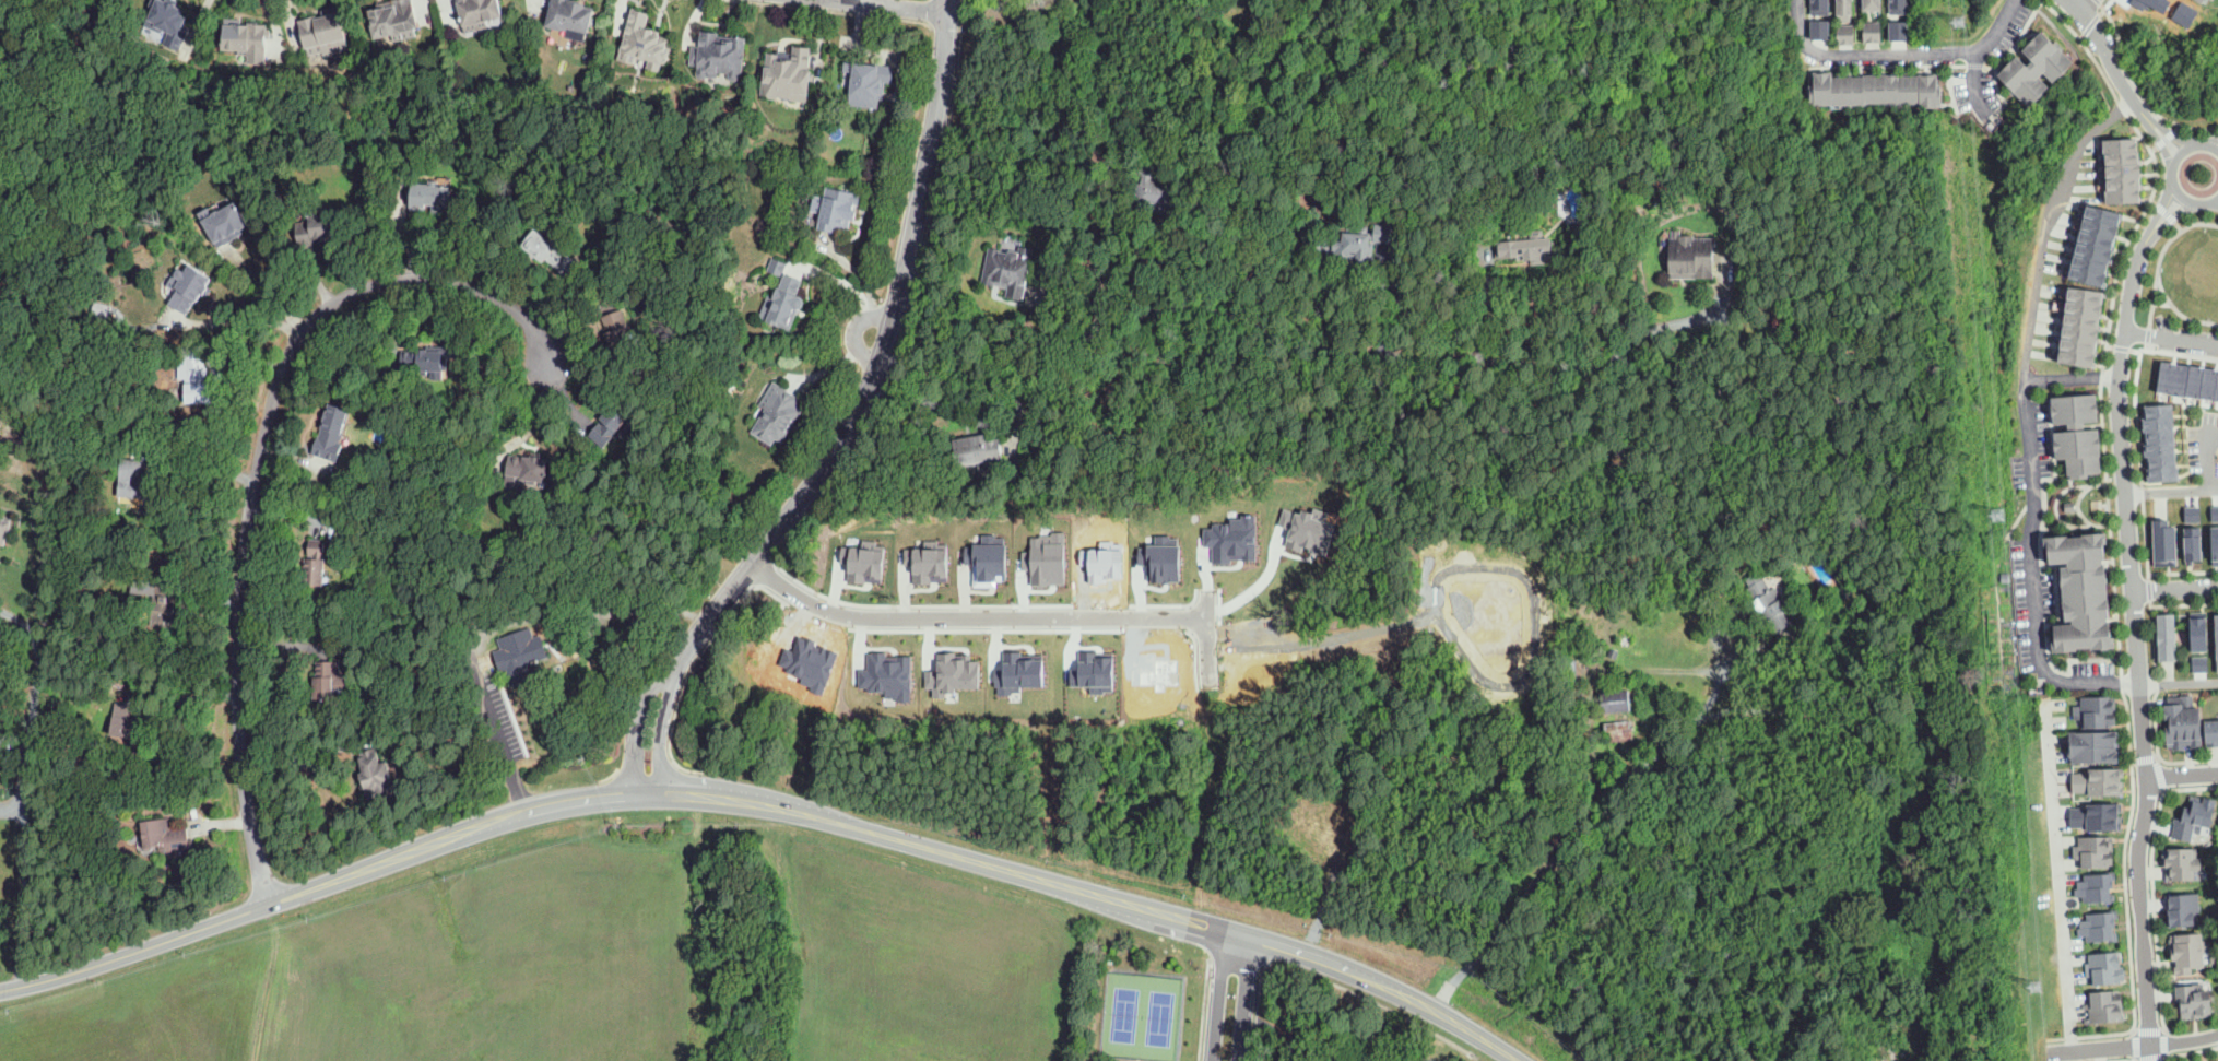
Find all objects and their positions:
building: (2213, 0)
road: (543, 1)
road: (961, 2)
building: (1815, 2)
building: (1895, 3)
building: (2155, 3)
building: (1872, 4)
road: (2086, 4)
road: (886, 7)
building: (1844, 11)
road: (845, 12)
building: (2185, 12)
building: (479, 13)
building: (570, 15)
building: (394, 20)
building: (167, 22)
road: (2092, 23)
power tower: (1960, 25)
building: (1816, 26)
building: (1893, 27)
road: (2095, 28)
building: (1908, 30)
building: (331, 33)
building: (1842, 33)
building: (1873, 33)
building: (246, 39)
road: (36, 42)
building: (644, 43)
road: (1896, 50)
building: (719, 56)
building: (2040, 68)
building: (792, 78)
road: (2123, 80)
building: (868, 83)
road: (1972, 83)
road: (2137, 85)
building: (1829, 91)
building: (1889, 92)
building: (1901, 92)
building: (1878, 93)
building: (1912, 93)
building: (1923, 93)
building: (1938, 93)
building: (1844, 94)
building: (1855, 94)
building: (1867, 94)
road: (2115, 94)
road: (2143, 109)
road: (1101, 128)
road: (2173, 133)
road: (2168, 137)
road: (2211, 141)
road: (2162, 145)
building: (2113, 164)
road: (2172, 174)
building: (1151, 189)
building: (428, 197)
road: (2154, 202)
road: (2213, 203)
road: (2160, 208)
building: (836, 209)
road: (2166, 212)
road: (2170, 217)
building: (224, 224)
road: (2049, 225)
road: (2178, 225)
building: (316, 226)
road: (1097, 237)
building: (2085, 239)
building: (1360, 244)
building: (1527, 249)
building: (548, 252)
road: (2161, 255)
building: (1690, 256)
building: (1008, 270)
road: (842, 280)
road: (272, 285)
building: (188, 287)
building: (786, 296)
road: (2162, 303)
building: (99, 308)
road: (2179, 311)
building: (2070, 320)
road: (1246, 321)
road: (1675, 321)
road: (852, 330)
building: (620, 332)
road: (2147, 337)
road: (2170, 338)
road: (2119, 347)
road: (2140, 349)
road: (2182, 353)
building: (428, 359)
road: (2119, 362)
road: (876, 365)
road: (827, 368)
building: (196, 376)
building: (2186, 376)
road: (2137, 377)
building: (777, 415)
road: (534, 421)
building: (609, 425)
road: (862, 431)
building: (332, 433)
building: (2079, 434)
building: (2156, 443)
building: (978, 451)
road: (2210, 457)
road: (259, 462)
road: (202, 470)
building: (524, 471)
building: (133, 479)
road: (2171, 492)
building: (2097, 504)
building: (2070, 506)
power tower: (1997, 516)
building: (1310, 526)
building: (2186, 528)
road: (2031, 529)
building: (2, 533)
building: (2210, 533)
building: (1242, 535)
building: (2161, 537)
building: (1167, 554)
building: (1472, 554)
building: (1053, 555)
building: (995, 557)
building: (871, 558)
building: (1111, 558)
building: (935, 561)
building: (316, 564)
road: (2182, 571)
road: (1247, 585)
building: (150, 588)
road: (2175, 588)
building: (2084, 591)
building: (1842, 593)
building: (1352, 600)
building: (164, 602)
road: (2184, 604)
building: (1773, 605)
road: (2150, 611)
road: (971, 617)
road: (1265, 624)
building: (2194, 630)
building: (2217, 633)
road: (1206, 638)
building: (2169, 638)
building: (743, 649)
building: (1613, 653)
building: (519, 655)
building: (819, 655)
road: (2122, 655)
building: (414, 657)
road: (1743, 658)
building: (1024, 663)
building: (2196, 663)
building: (959, 667)
building: (1098, 667)
building: (1163, 667)
road: (1677, 669)
building: (897, 671)
building: (1569, 673)
building: (328, 681)
road: (2179, 682)
building: (86, 691)
building: (1572, 694)
building: (1617, 702)
building: (755, 705)
building: (2095, 706)
building: (2095, 719)
building: (2172, 721)
building: (2188, 721)
building: (126, 723)
road: (638, 727)
building: (1618, 729)
road: (660, 731)
building: (2210, 732)
road: (500, 739)
building: (2091, 741)
building: (1538, 744)
building: (1158, 755)
building: (2091, 755)
road: (2158, 756)
road: (2146, 757)
road: (2134, 759)
road: (2160, 771)
road: (2182, 775)
building: (376, 777)
building: (2093, 777)
road: (2147, 777)
road: (2191, 788)
road: (26, 789)
road: (2164, 789)
road: (717, 794)
road: (12, 809)
building: (2092, 812)
building: (2193, 817)
building: (2217, 817)
building: (167, 838)
building: (2091, 846)
road: (1560, 850)
building: (2090, 860)
building: (2183, 863)
road: (2058, 871)
building: (2092, 887)
road: (2155, 908)
building: (2183, 909)
building: (2097, 927)
building: (2182, 952)
building: (2104, 967)
crop: (922, 968)
crop: (427, 974)
building: (706, 977)
road: (1206, 980)
power tower: (2037, 987)
road: (1218, 994)
road: (1243, 999)
building: (2187, 1002)
building: (2105, 1006)
park: (1125, 1007)
road: (1257, 1010)
park: (1161, 1011)
road: (1308, 1027)
road: (2148, 1029)
road: (1477, 1035)
road: (2164, 1042)
road: (2134, 1045)
road: (2135, 1045)
road: (2190, 1051)
road: (1417, 1057)
road: (2124, 1060)
road: (2150, 1060)
building: (2215, 1060)

